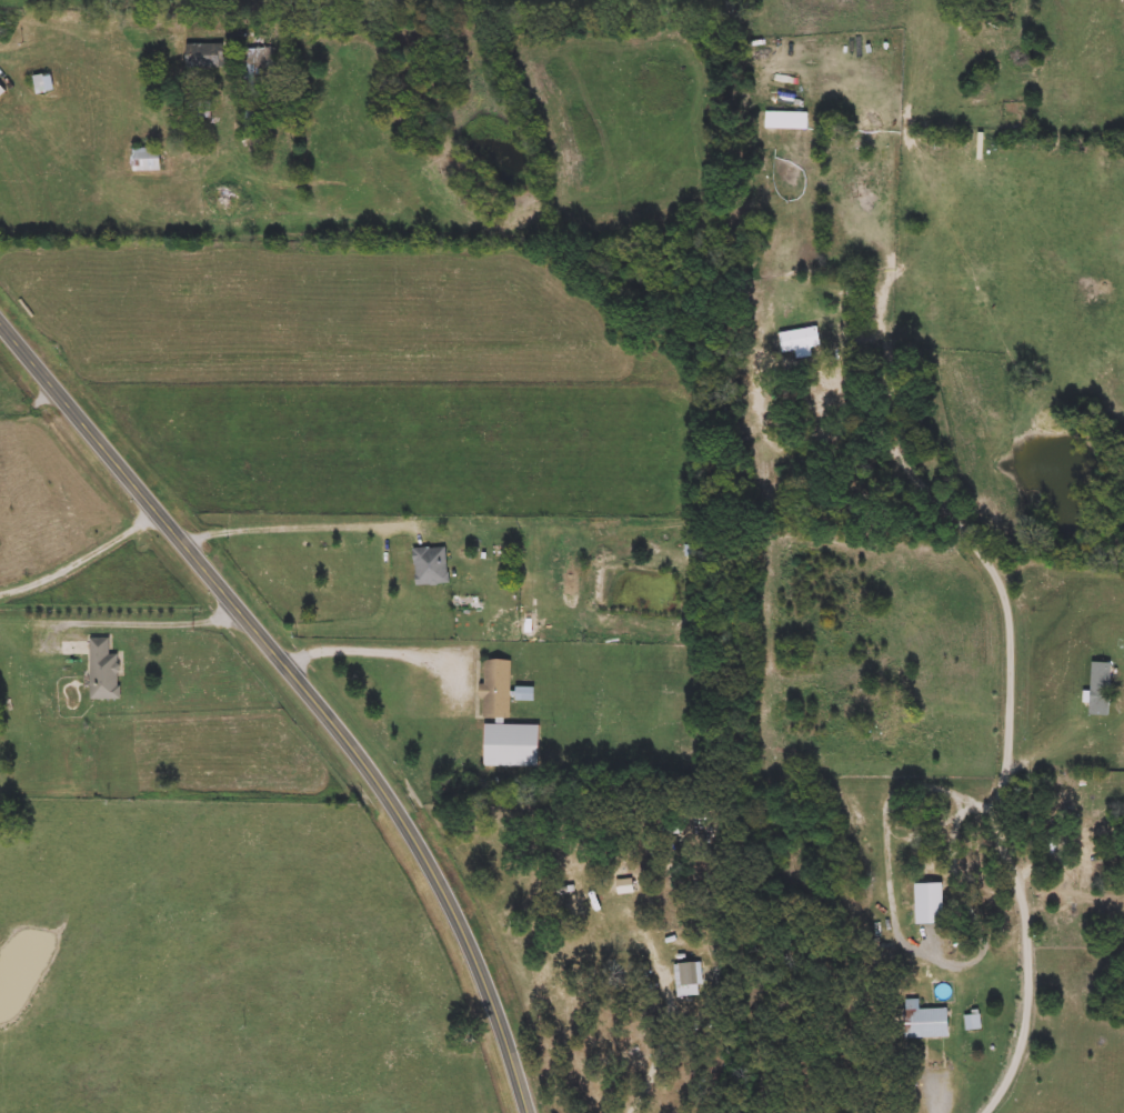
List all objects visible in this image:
building: (200, 51)
building: (43, 83)
building: (2, 90)
building: (200, 111)
building: (147, 159)
building: (800, 340)
road: (36, 404)
road: (304, 528)
building: (692, 550)
road: (84, 555)
building: (431, 566)
road: (144, 619)
road: (380, 649)
building: (104, 671)
road: (309, 682)
building: (496, 689)
building: (1101, 689)
building: (524, 693)
building: (893, 706)
road: (957, 708)
building: (512, 745)
road: (1006, 770)
road: (1060, 776)
building: (1090, 835)
building: (926, 1023)
road: (984, 1034)
road: (663, 1049)

